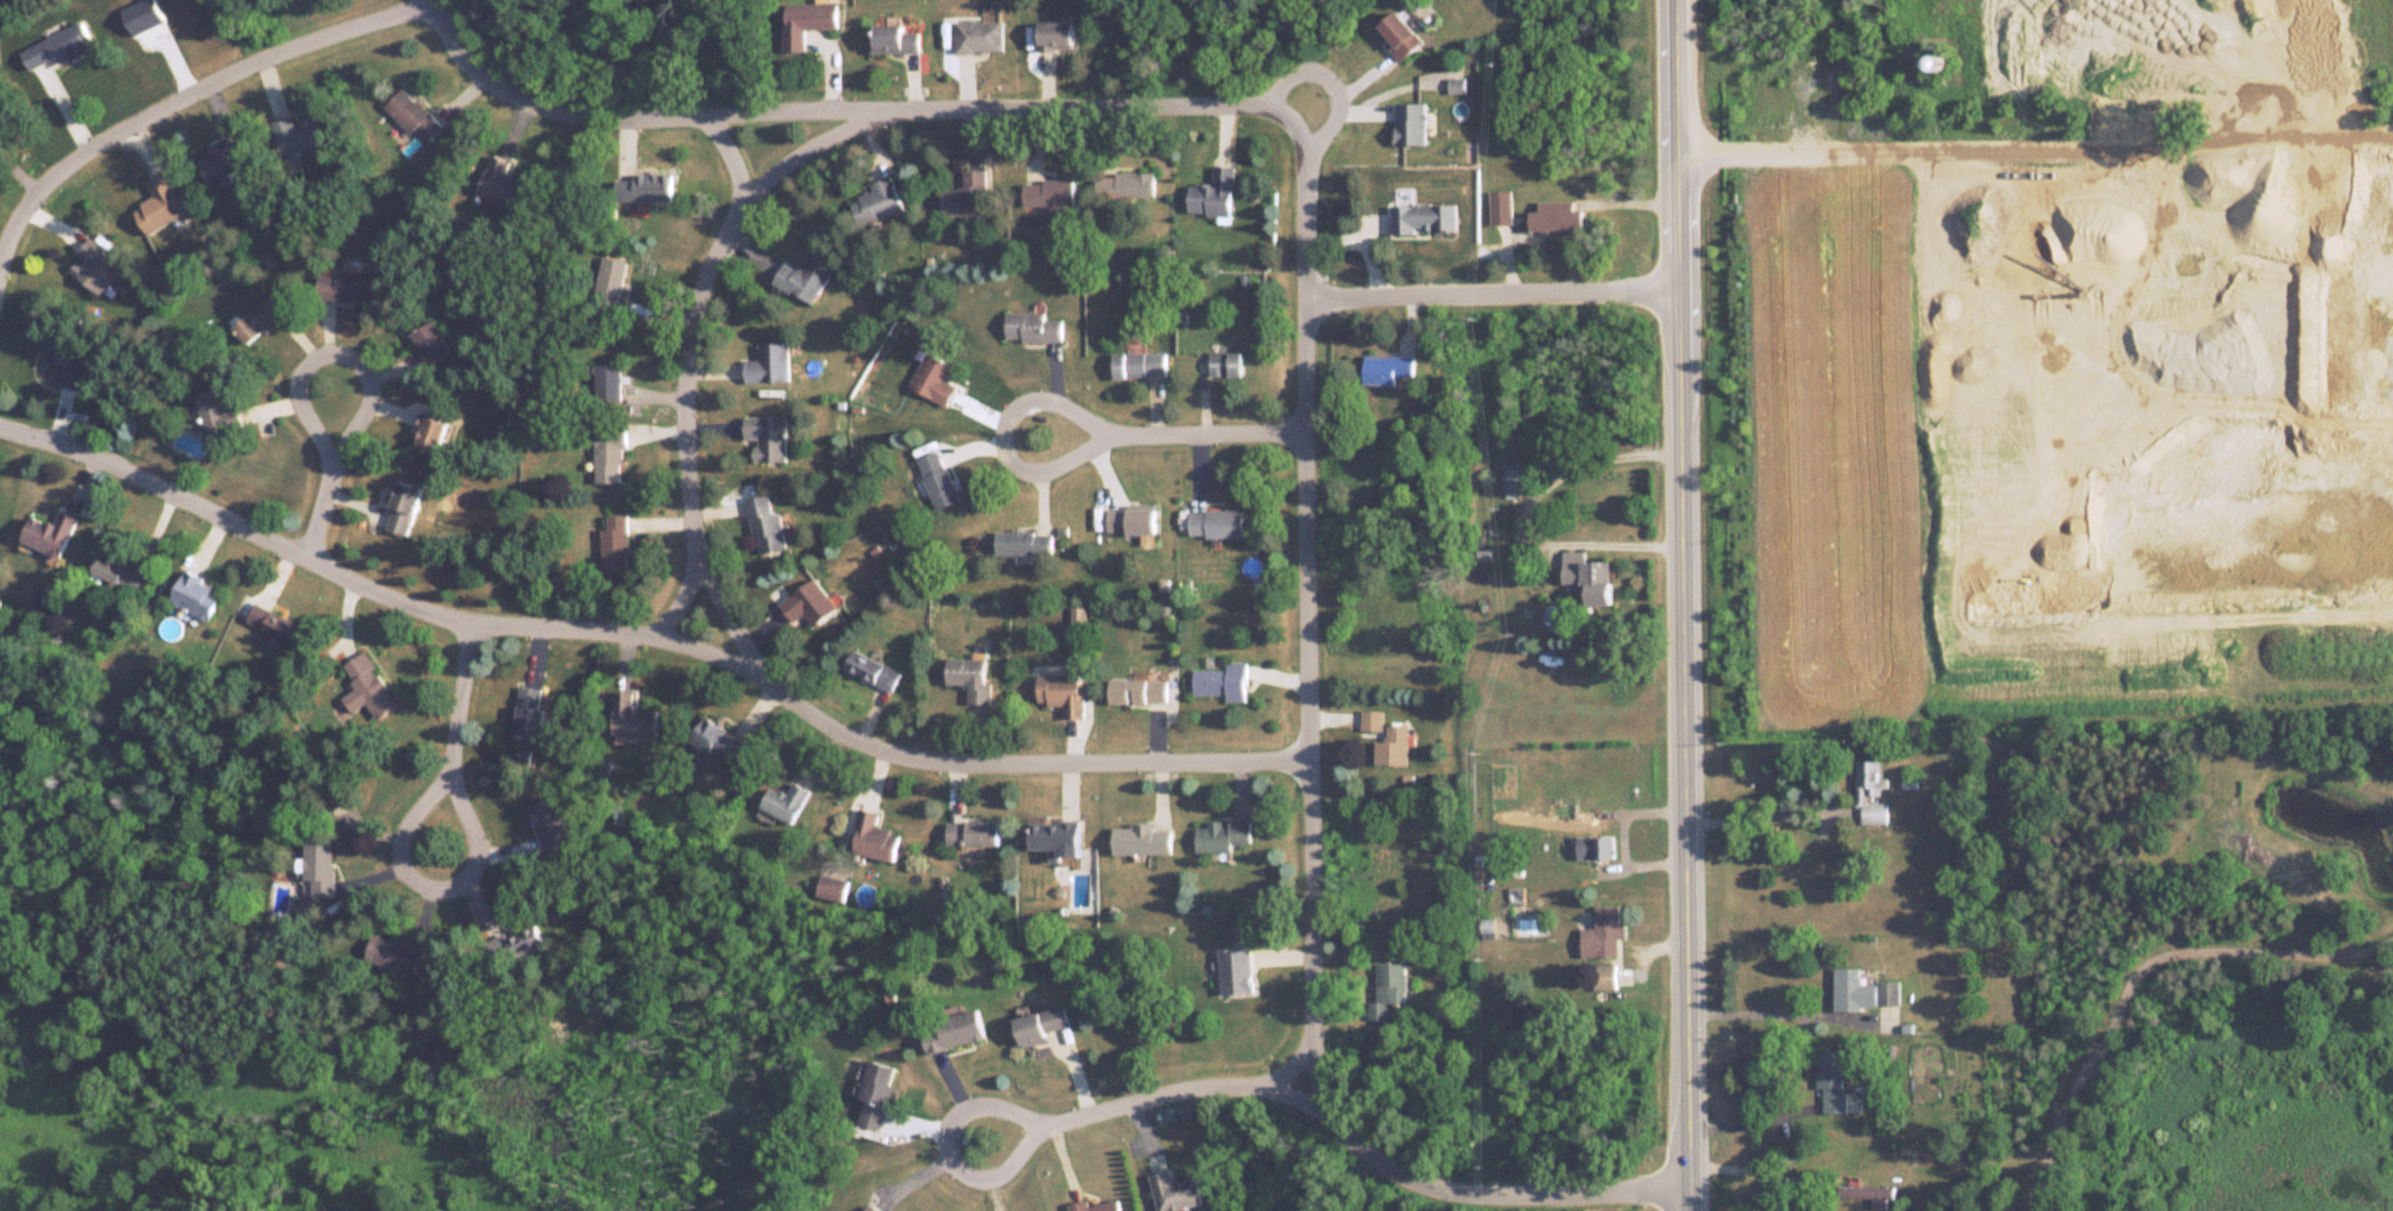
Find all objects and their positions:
building: (807, 21)
building: (1057, 34)
building: (1401, 34)
building: (980, 36)
building: (896, 38)
building: (58, 47)
building: (1940, 62)
road: (182, 103)
building: (416, 115)
road: (866, 115)
building: (1411, 123)
road: (1300, 126)
road: (1337, 126)
road: (2039, 132)
building: (297, 135)
road: (823, 147)
building: (225, 158)
building: (502, 184)
building: (1125, 184)
building: (643, 187)
building: (1050, 193)
building: (1214, 193)
building: (967, 194)
building: (879, 201)
building: (160, 205)
building: (1501, 206)
building: (2352, 210)
building: (1558, 217)
building: (1423, 218)
building: (95, 265)
building: (2337, 276)
building: (806, 278)
building: (609, 284)
building: (347, 287)
road: (1499, 295)
building: (261, 318)
building: (1034, 327)
building: (434, 342)
building: (63, 359)
building: (1225, 363)
building: (770, 364)
building: (1140, 364)
building: (1386, 369)
road: (297, 377)
road: (691, 377)
building: (935, 379)
building: (611, 383)
building: (218, 411)
building: (432, 436)
building: (769, 437)
road: (1178, 437)
building: (608, 456)
building: (1515, 476)
building: (939, 480)
building: (405, 508)
road: (1521, 513)
building: (1133, 520)
building: (1489, 523)
building: (1217, 524)
building: (768, 525)
building: (50, 534)
building: (1025, 543)
building: (615, 544)
building: (120, 571)
building: (1589, 579)
building: (198, 596)
building: (810, 604)
road: (1688, 605)
road: (1314, 620)
building: (275, 623)
road: (740, 633)
road: (652, 641)
building: (874, 669)
building: (971, 678)
building: (1221, 680)
building: (368, 687)
building: (1138, 691)
building: (1064, 692)
building: (531, 711)
building: (633, 716)
building: (1371, 722)
building: (721, 738)
building: (1393, 745)
building: (1868, 792)
building: (785, 801)
road: (1760, 815)
building: (552, 826)
road: (417, 828)
building: (973, 832)
building: (1223, 834)
building: (874, 837)
building: (1058, 837)
building: (1141, 839)
building: (1595, 846)
building: (320, 866)
building: (832, 888)
building: (1602, 933)
building: (520, 942)
building: (394, 952)
road: (2136, 969)
building: (1237, 970)
building: (1387, 988)
building: (1862, 989)
road: (1769, 1011)
building: (1042, 1024)
building: (955, 1030)
building: (1830, 1078)
building: (879, 1094)
road: (1753, 1119)
road: (1063, 1122)
building: (1974, 1155)
road: (1752, 1171)
building: (1174, 1192)
building: (1860, 1192)
road: (1482, 1196)
building: (1095, 1205)
building: (871, 1207)

